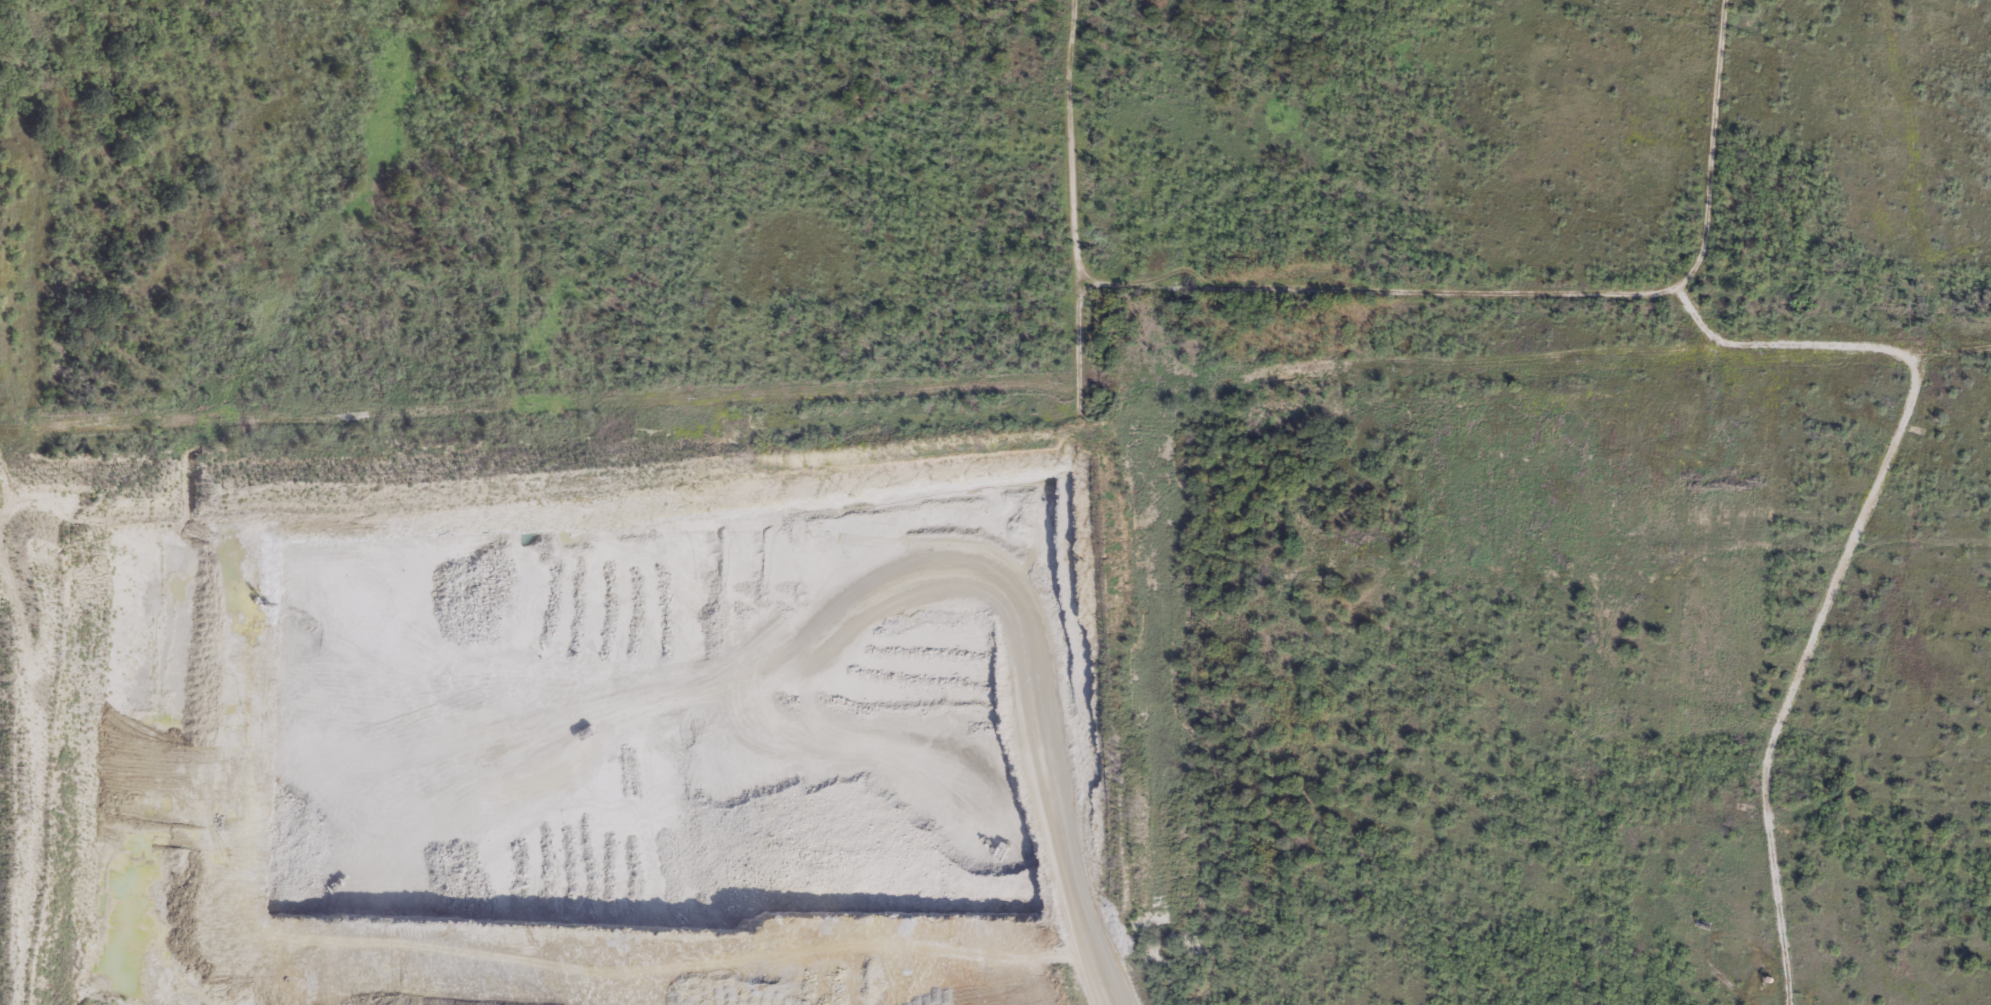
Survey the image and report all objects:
road: (1075, 140)
road: (1538, 301)
quarry: (928, 702)
road: (1066, 869)

